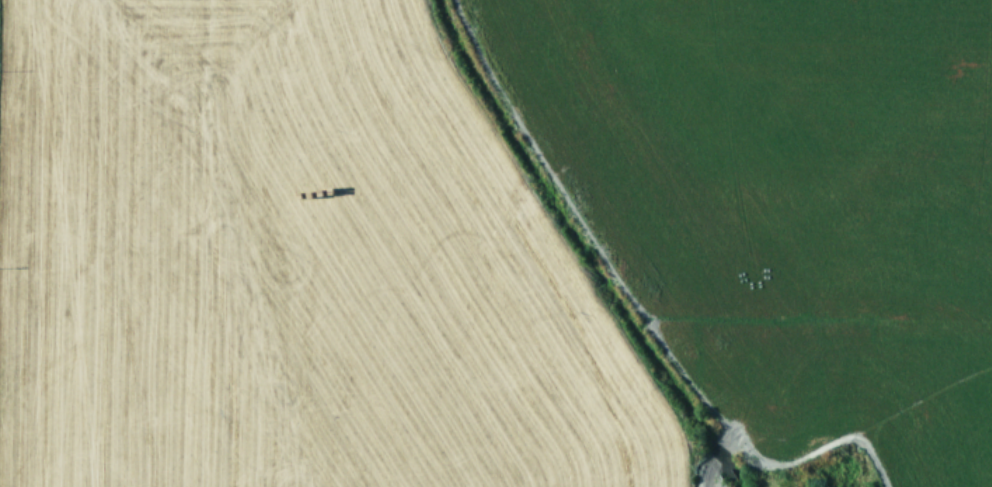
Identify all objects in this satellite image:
crop: (496, 243)

